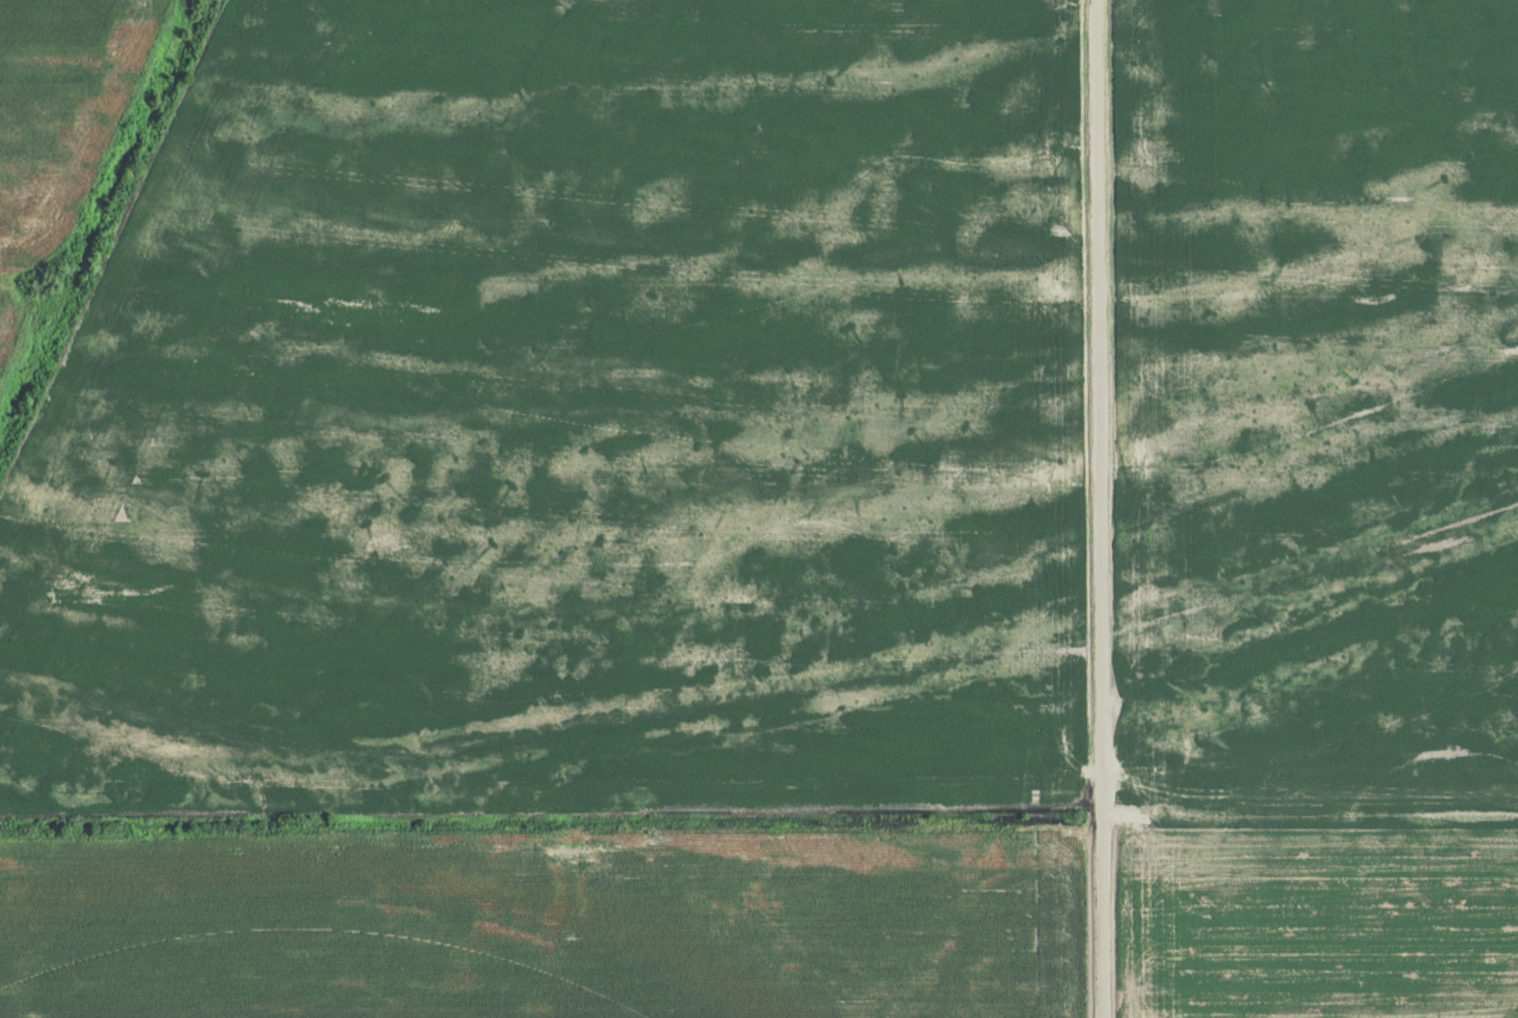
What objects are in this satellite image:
road: (1101, 508)
road: (1310, 833)

